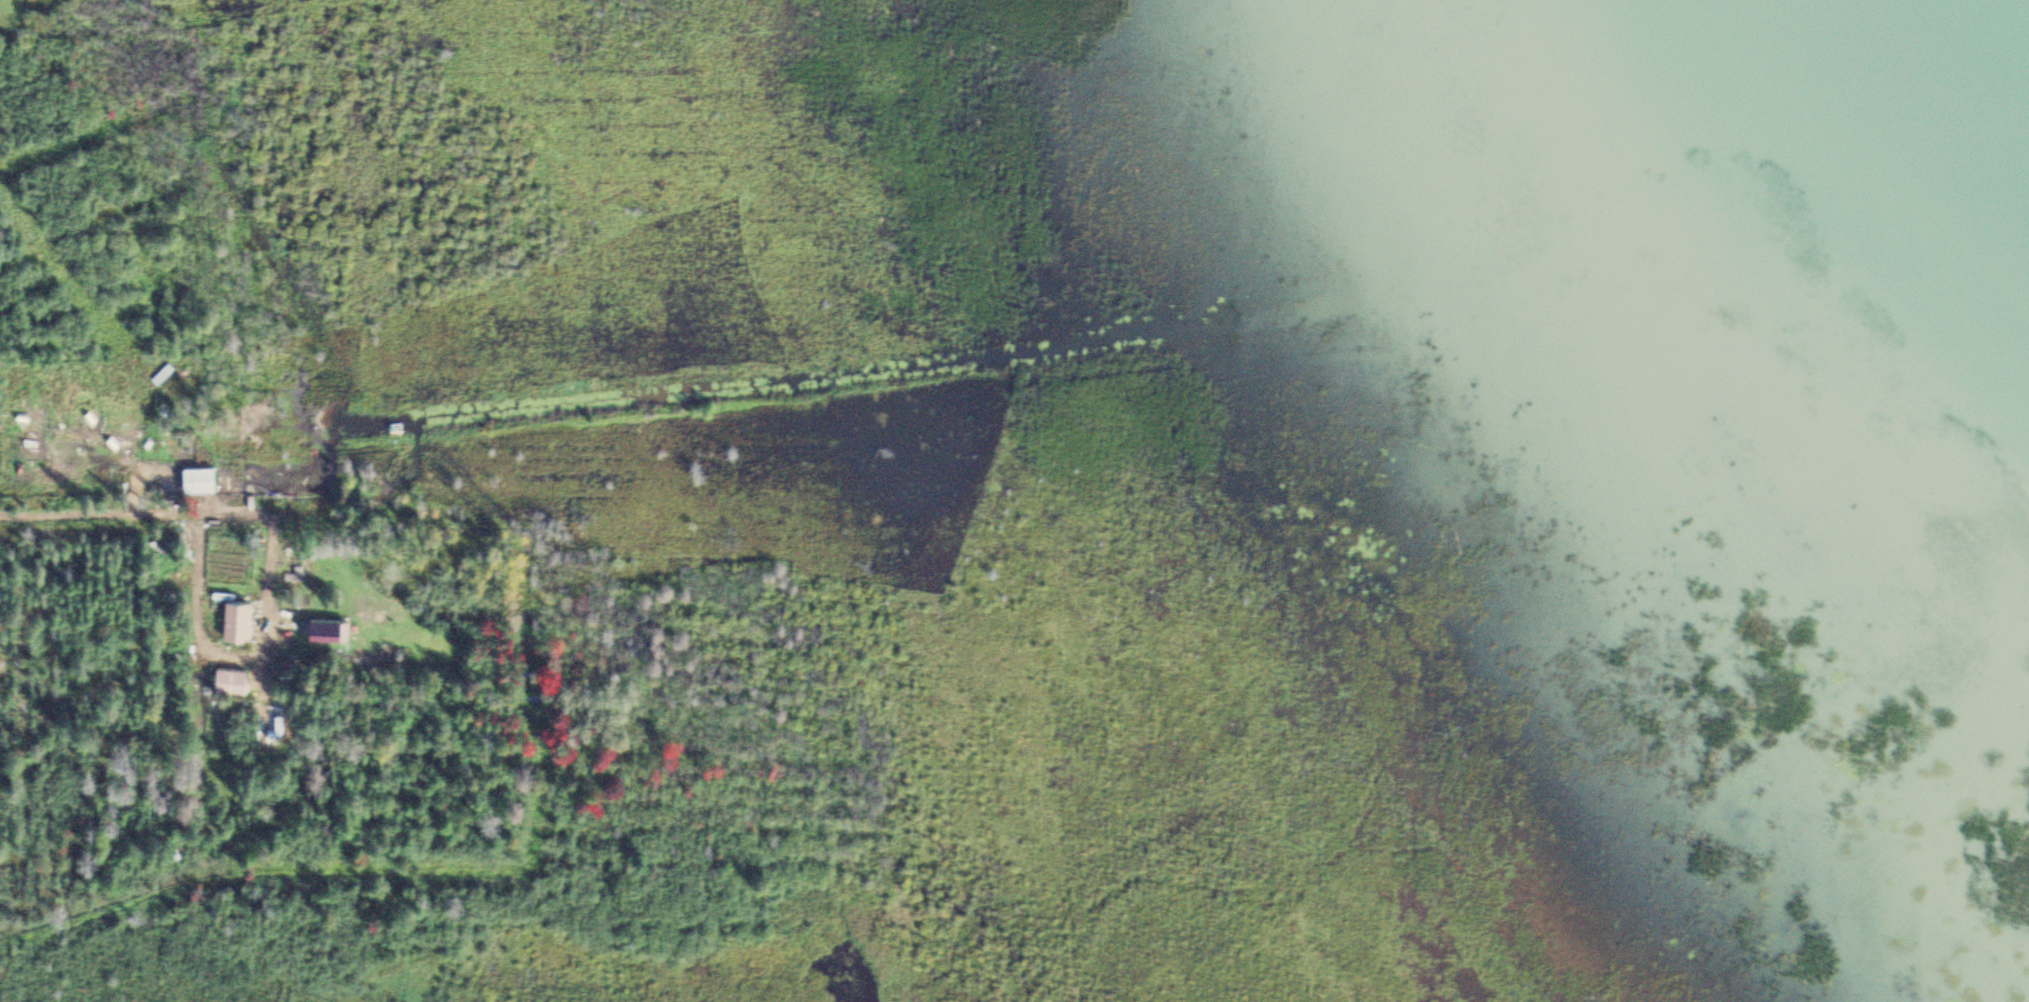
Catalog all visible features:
building: (165, 371)
building: (202, 476)
road: (205, 527)
building: (240, 617)
building: (329, 626)
building: (233, 679)

